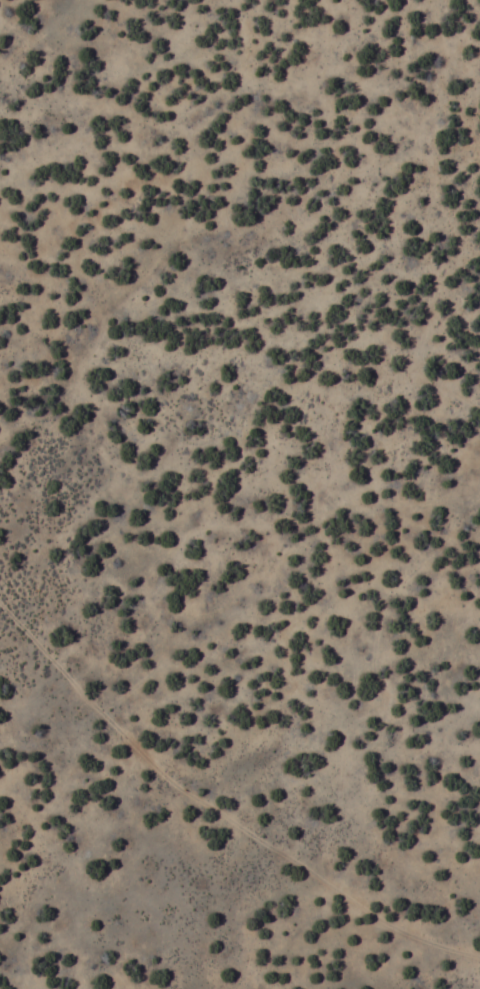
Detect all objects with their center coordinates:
road: (216, 818)

